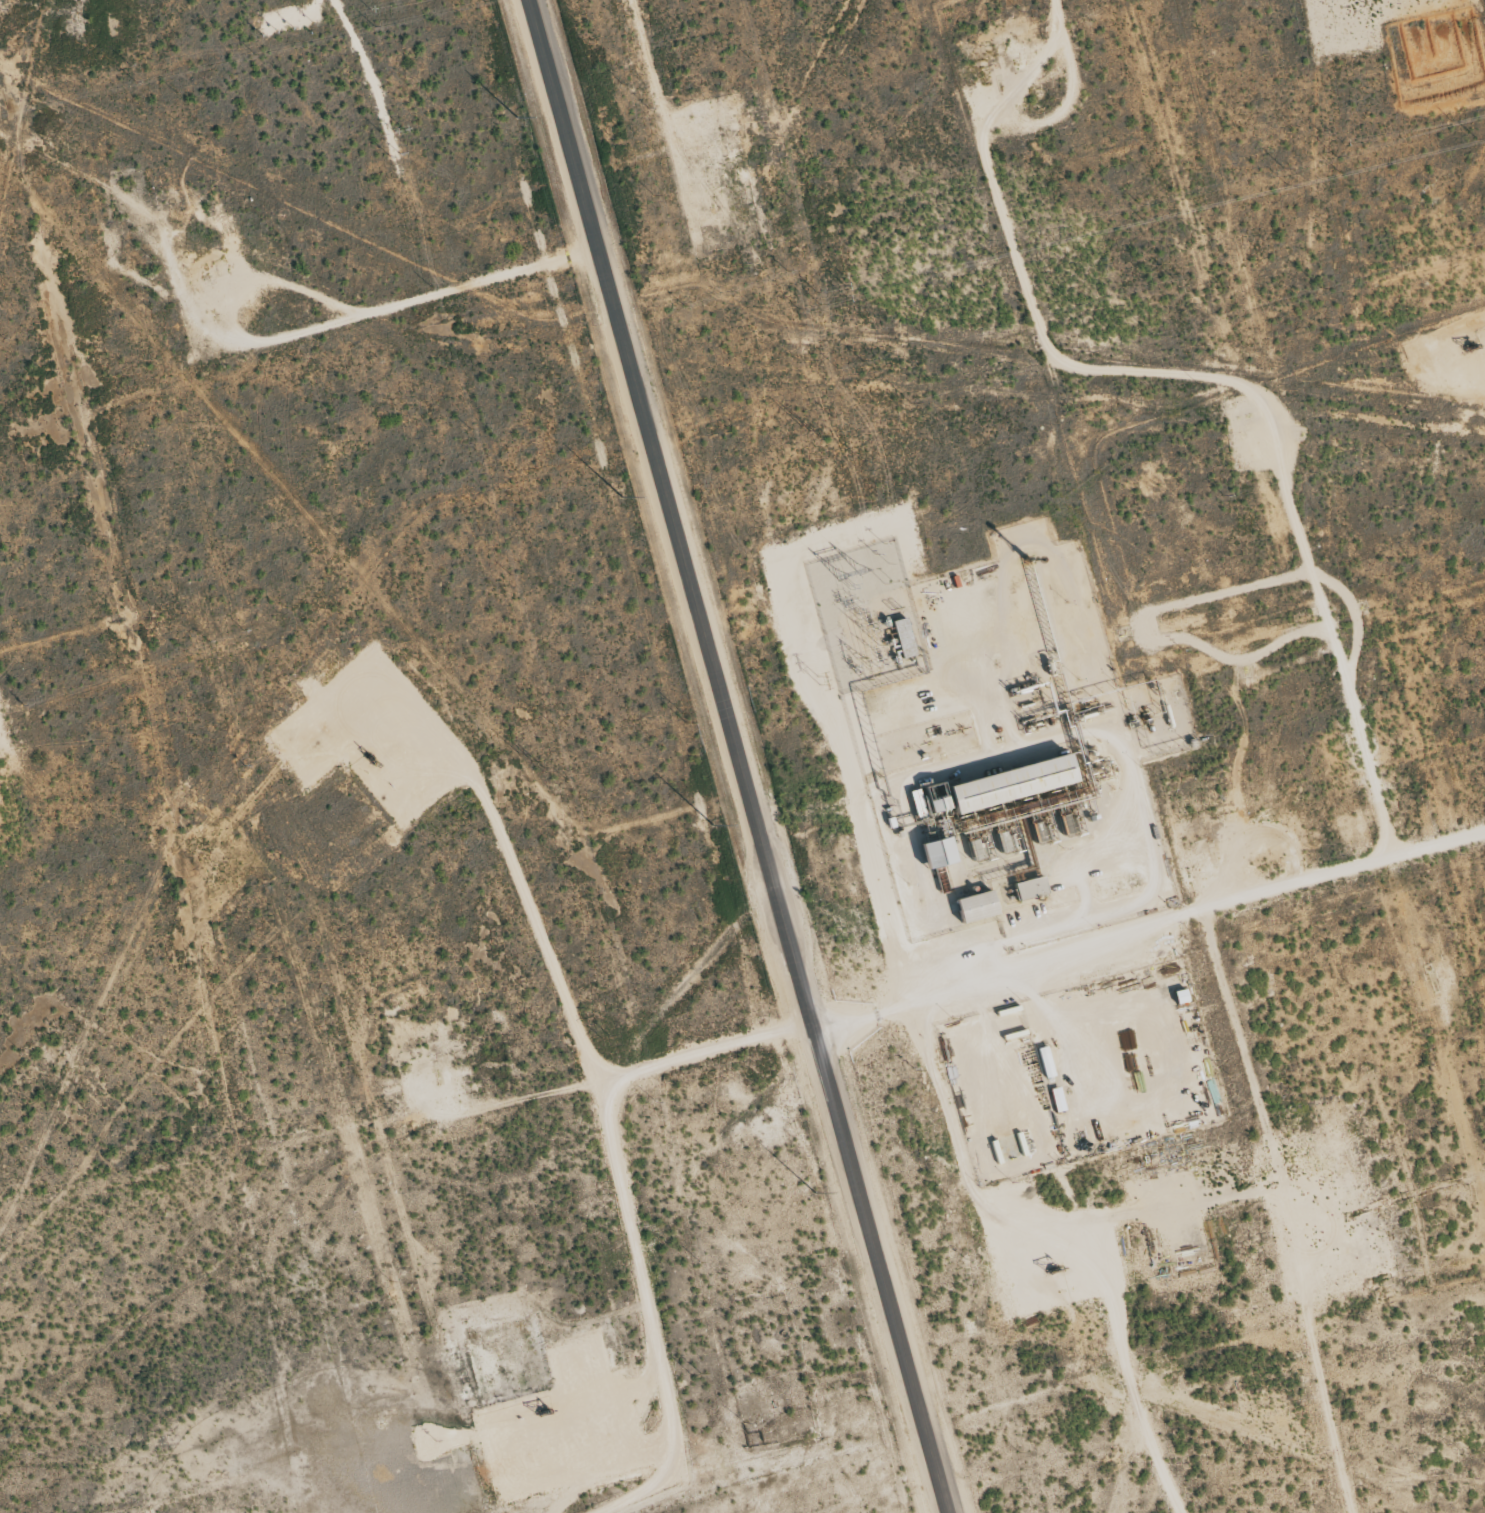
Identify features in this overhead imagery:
power tower: (1320, 287)
road: (405, 301)
power tower: (1151, 334)
power tower: (909, 402)
power tower: (808, 431)
power substation: (867, 616)
power tower: (694, 722)
road: (736, 755)
power tower: (531, 760)
building: (936, 853)
building: (1029, 888)
building: (975, 907)
road: (1148, 931)
power tower: (605, 1036)
road: (694, 1052)
power tower: (695, 1372)

